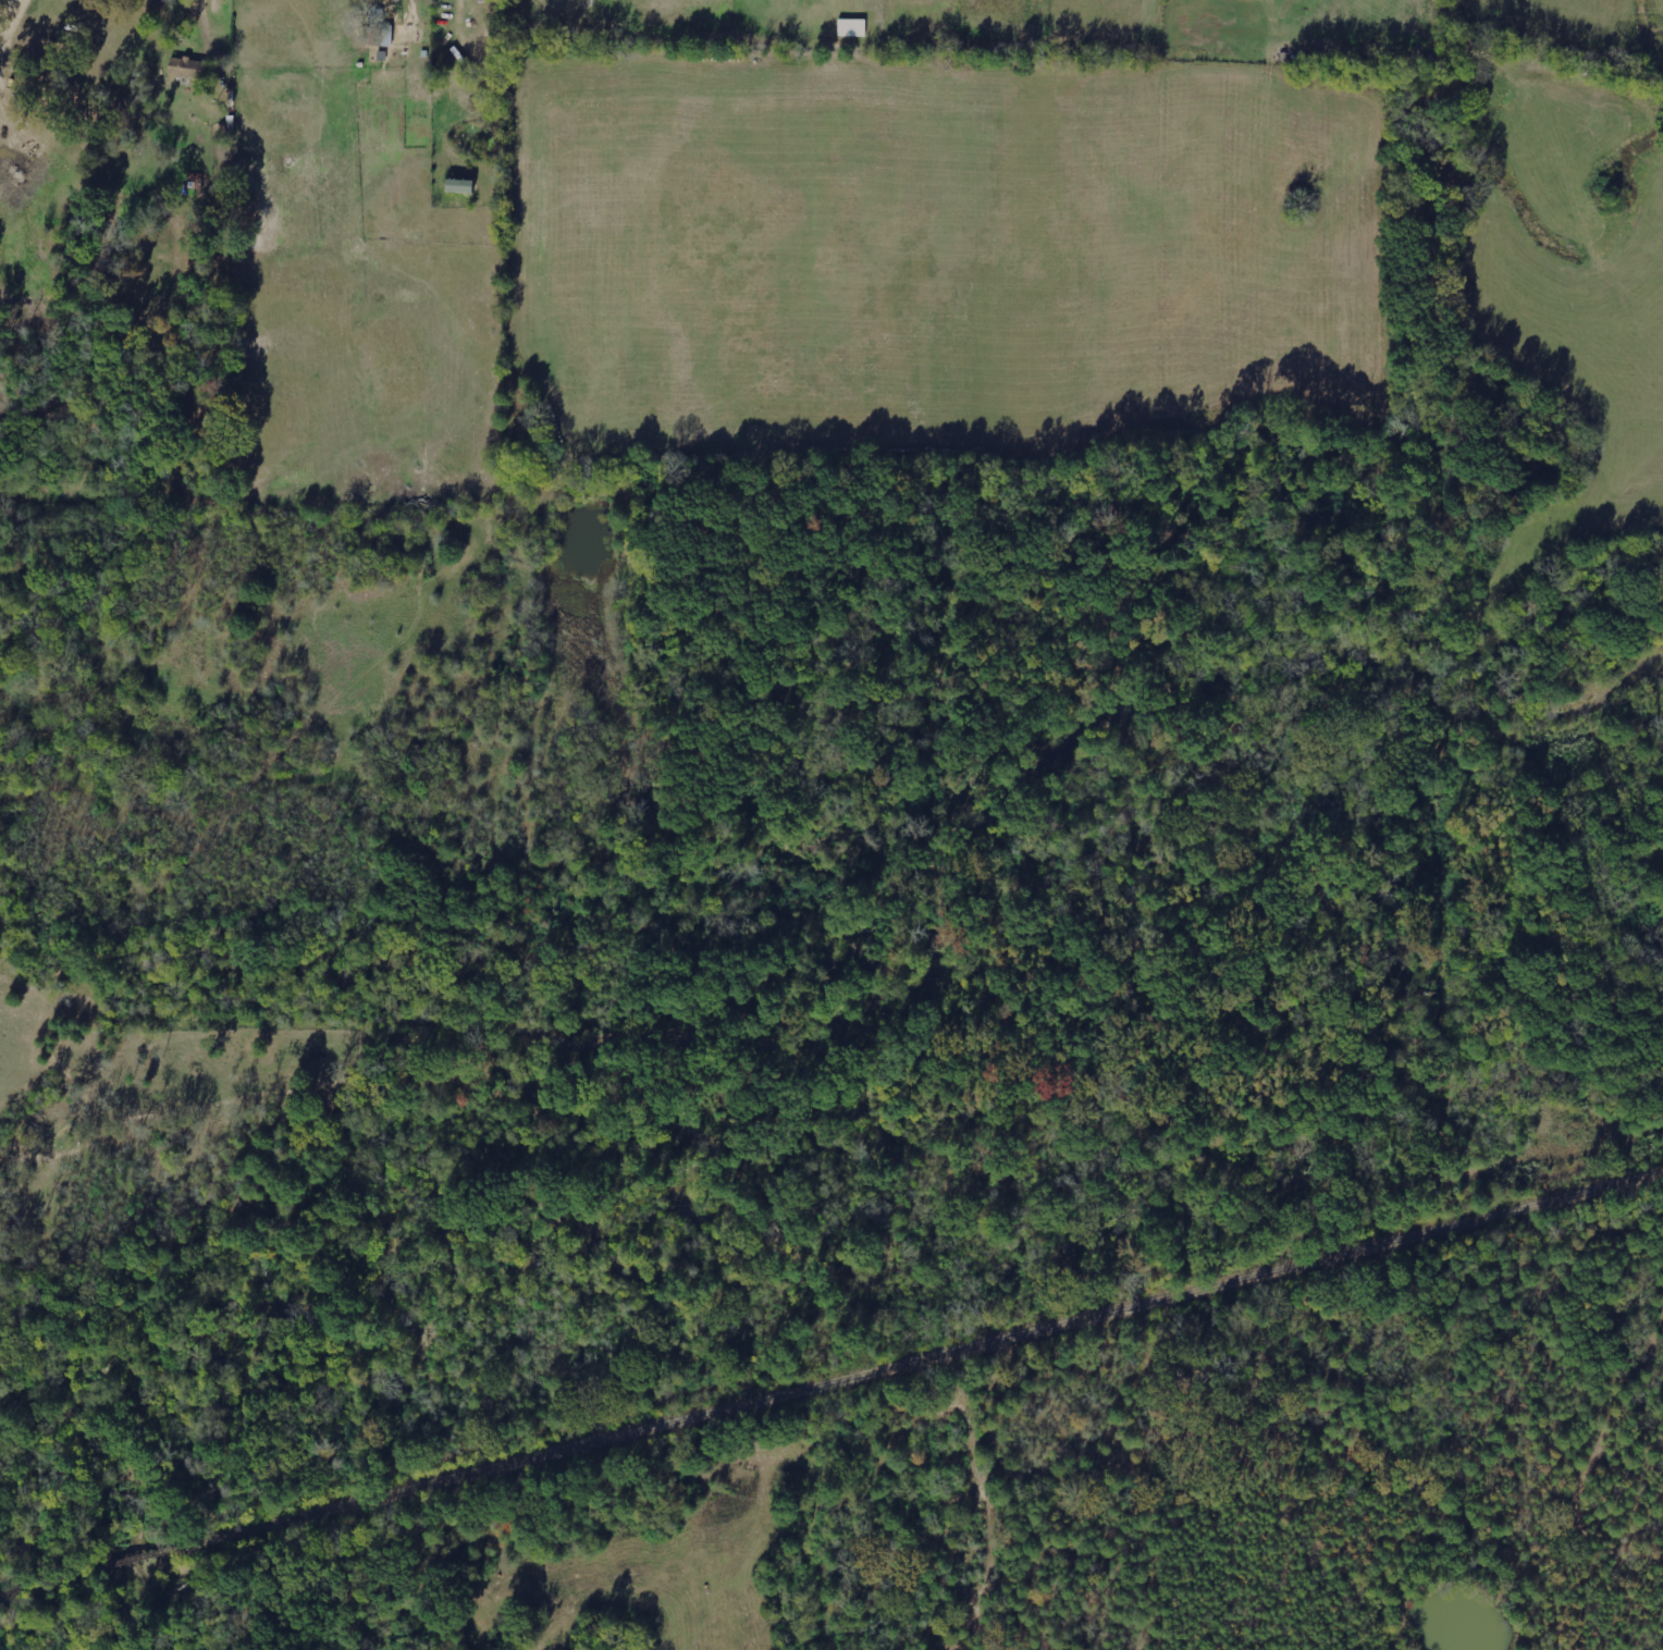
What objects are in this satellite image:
building: (187, 66)
building: (460, 185)
railway: (831, 1384)

